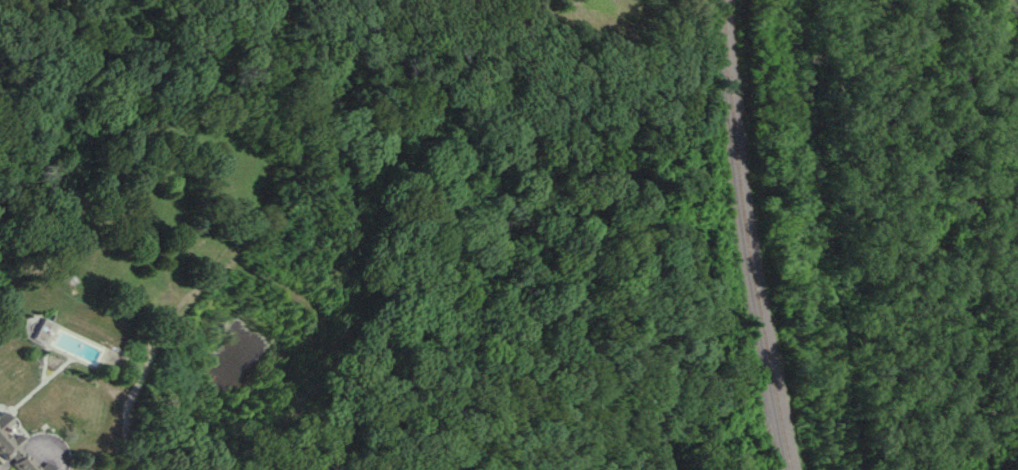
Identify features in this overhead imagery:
road: (54, 19)
railway: (746, 236)
building: (9, 445)
building: (27, 463)

